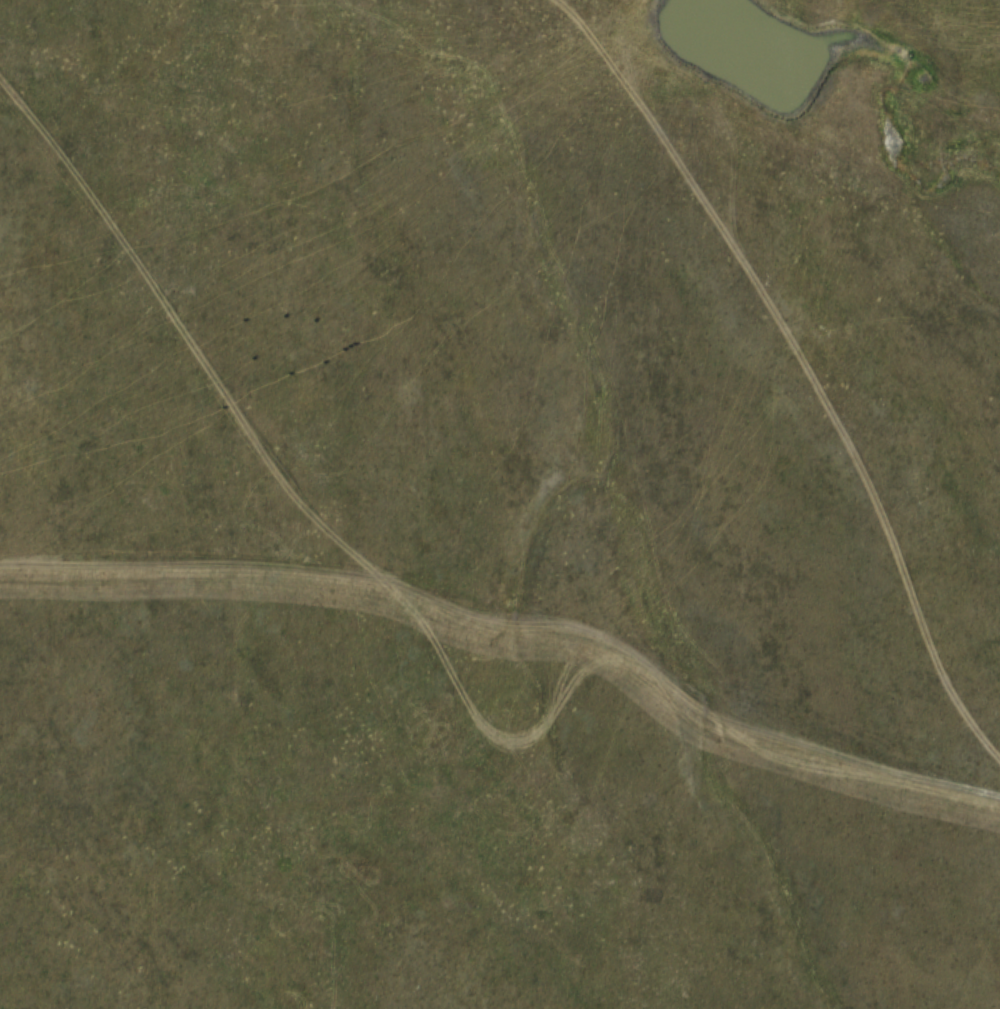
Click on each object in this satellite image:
road: (152, 573)
road: (357, 646)

